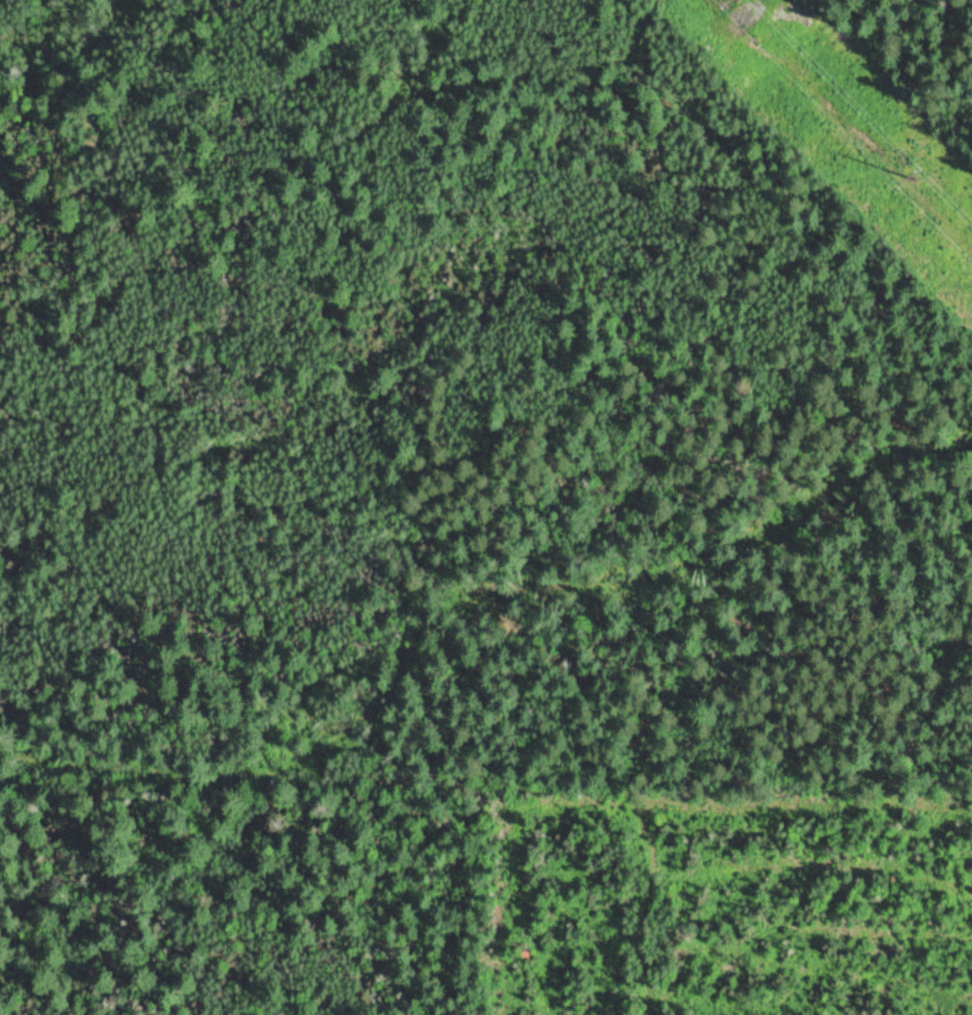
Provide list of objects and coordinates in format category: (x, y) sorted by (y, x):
power tower: (913, 178)

